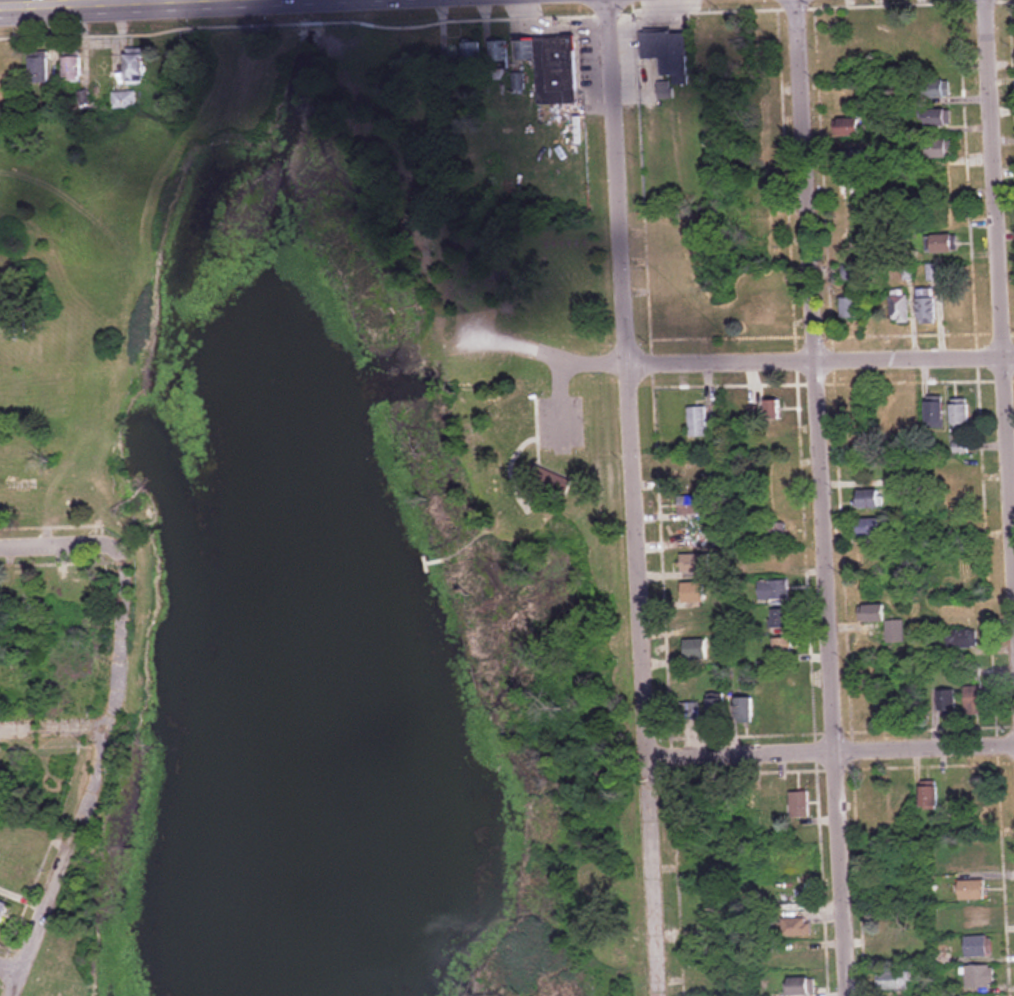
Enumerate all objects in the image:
road: (63, 2)
building: (863, 35)
building: (707, 43)
building: (667, 52)
building: (471, 53)
building: (499, 53)
building: (72, 68)
building: (135, 68)
building: (552, 69)
building: (39, 70)
building: (517, 82)
building: (938, 89)
building: (123, 101)
building: (939, 118)
building: (850, 128)
building: (941, 150)
building: (854, 191)
building: (944, 215)
building: (761, 227)
road: (999, 231)
building: (945, 245)
building: (934, 273)
building: (927, 306)
building: (899, 307)
building: (850, 308)
building: (757, 314)
building: (1, 315)
road: (825, 364)
building: (773, 408)
building: (936, 414)
building: (961, 415)
building: (697, 421)
building: (750, 431)
building: (775, 443)
building: (548, 477)
building: (773, 477)
road: (641, 497)
road: (827, 497)
building: (870, 498)
building: (773, 502)
building: (692, 505)
building: (869, 527)
building: (776, 532)
road: (63, 536)
park: (325, 544)
building: (777, 561)
building: (695, 563)
building: (773, 589)
building: (72, 592)
building: (693, 592)
building: (780, 618)
building: (885, 623)
building: (962, 639)
building: (781, 648)
building: (695, 649)
building: (947, 700)
building: (977, 700)
building: (744, 709)
building: (717, 712)
road: (56, 727)
road: (832, 747)
road: (94, 773)
building: (929, 795)
building: (799, 803)
building: (971, 853)
building: (972, 890)
building: (2, 910)
building: (971, 916)
building: (796, 926)
building: (978, 946)
building: (798, 955)
road: (11, 968)
building: (980, 976)
building: (895, 981)
building: (801, 985)
building: (981, 995)

